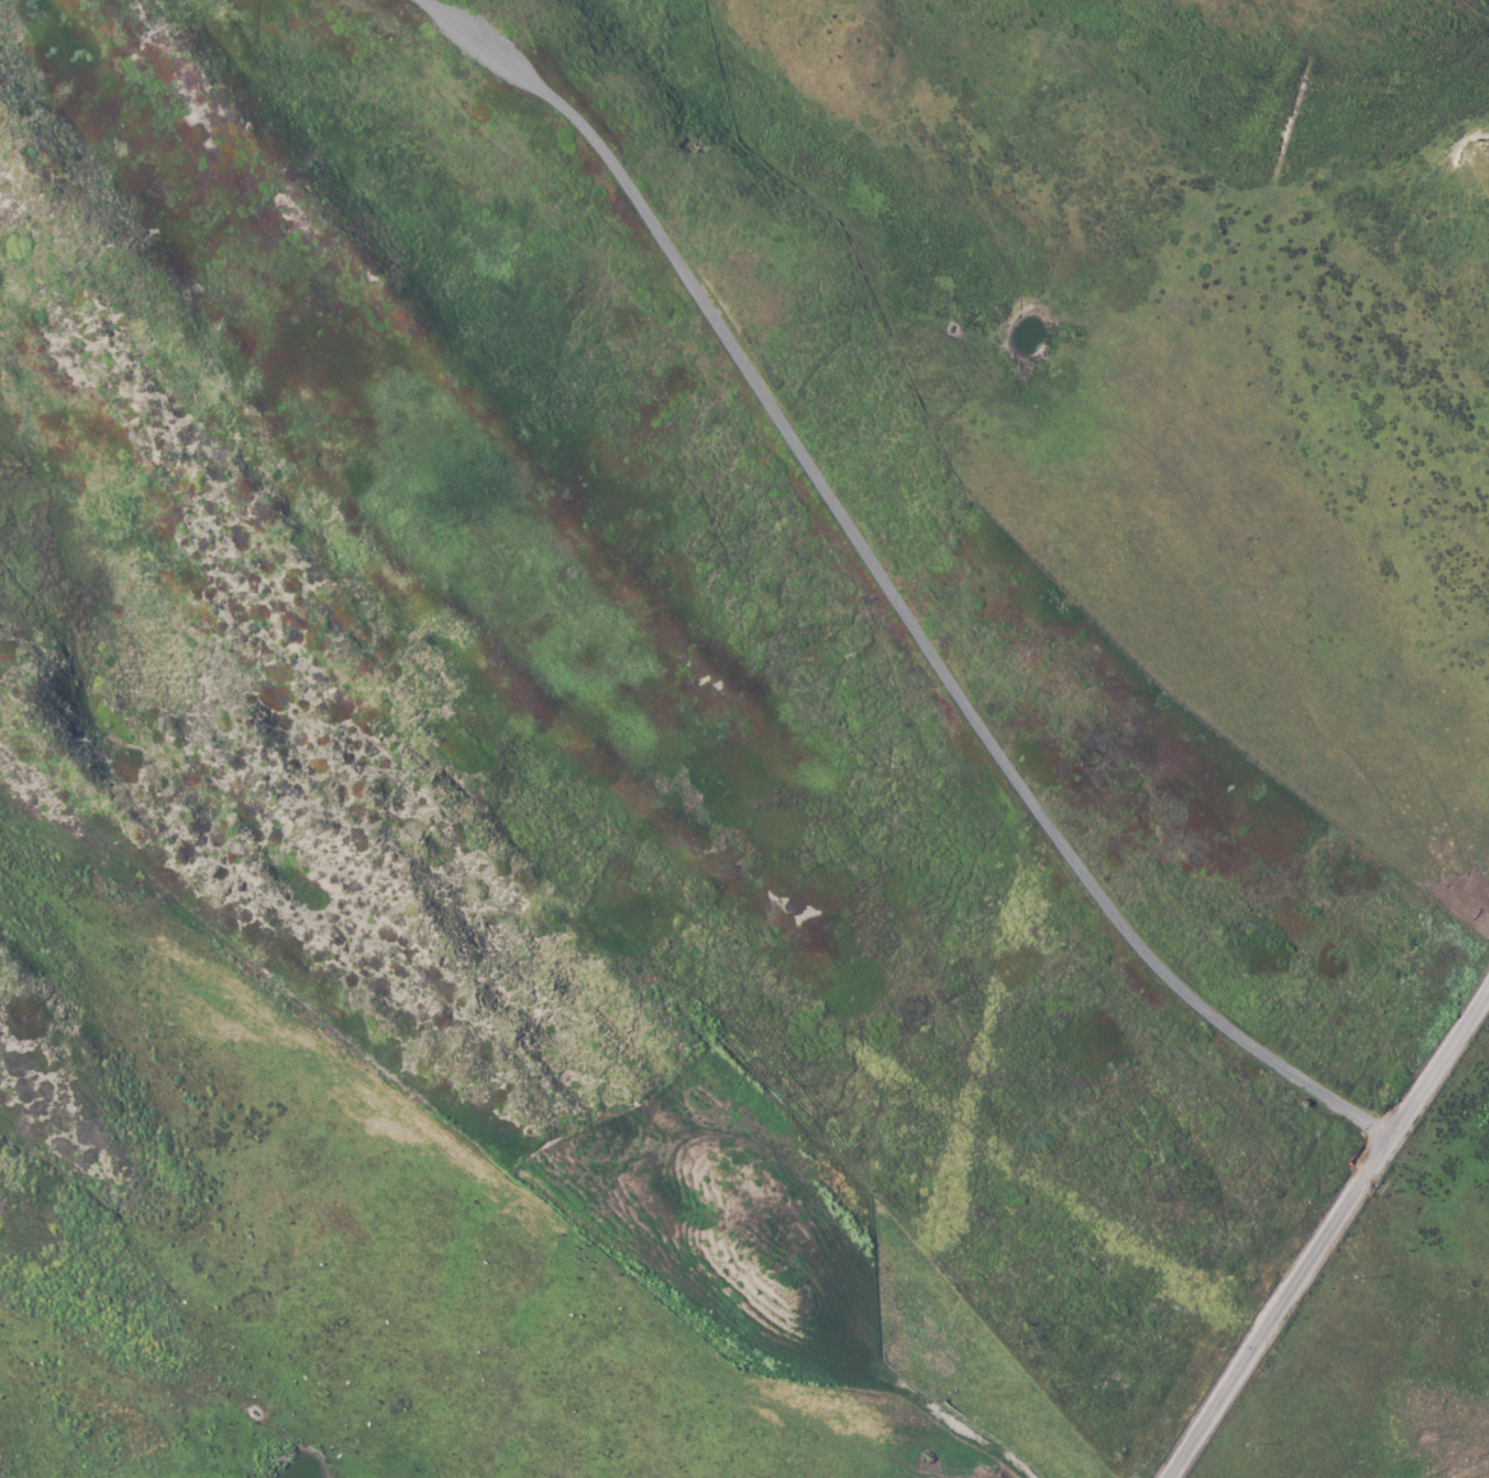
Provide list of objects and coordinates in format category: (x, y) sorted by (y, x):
road: (885, 587)
road: (1329, 1229)
road: (1463, 1467)

